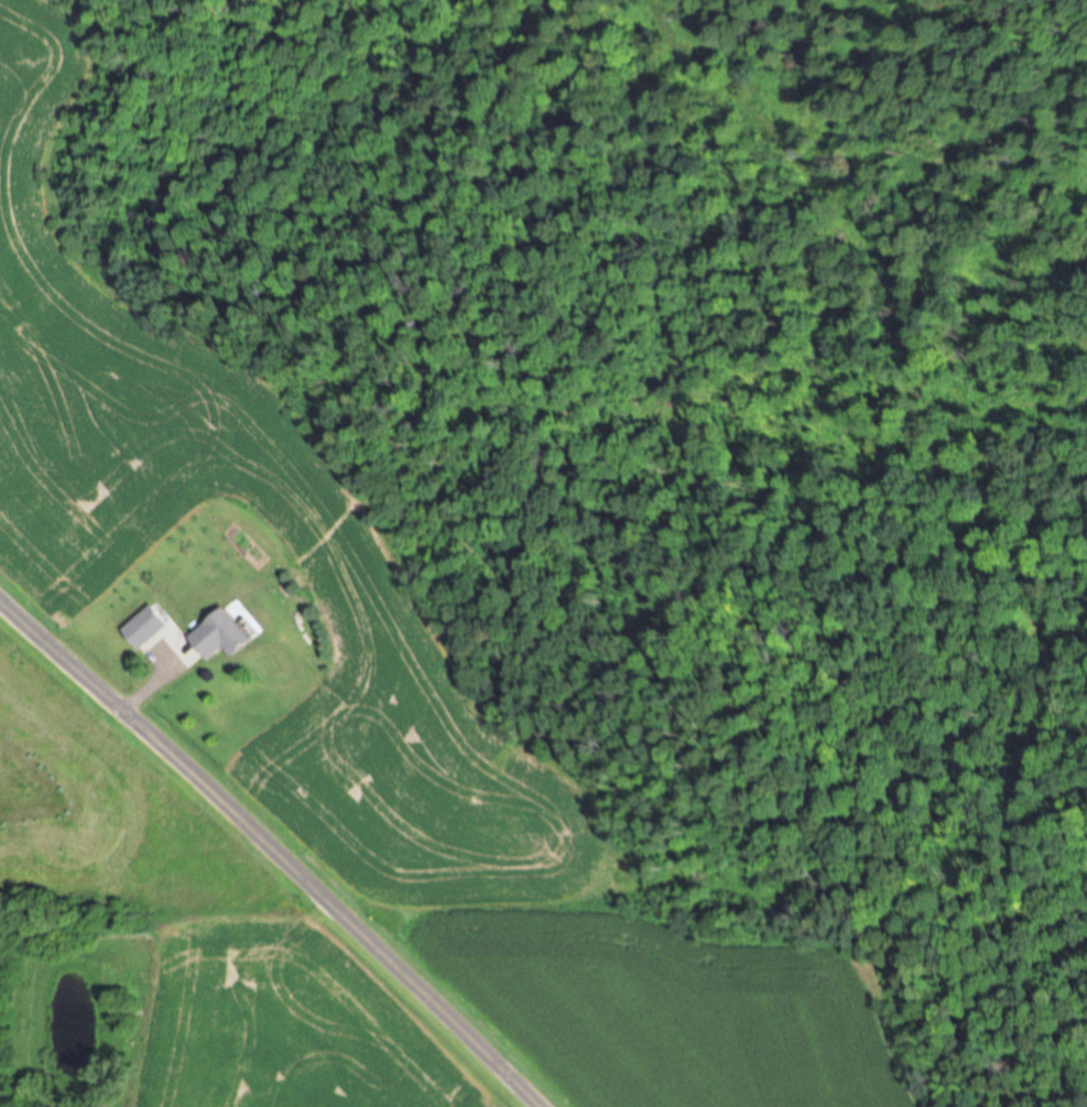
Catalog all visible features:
building: (146, 627)
building: (225, 636)
road: (248, 835)

